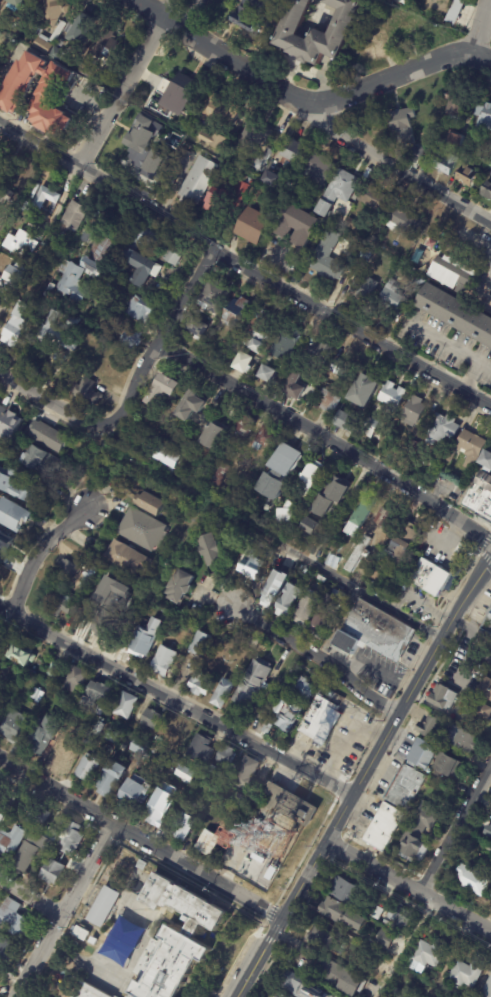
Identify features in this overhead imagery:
building: (22, 4)
building: (0, 9)
road: (169, 9)
building: (455, 11)
building: (251, 14)
road: (186, 17)
building: (405, 26)
road: (477, 27)
building: (84, 28)
building: (60, 29)
building: (319, 31)
building: (1, 33)
building: (108, 42)
road: (223, 56)
building: (0, 61)
building: (89, 68)
road: (306, 71)
road: (404, 74)
road: (120, 91)
building: (185, 91)
building: (40, 94)
road: (91, 99)
building: (222, 107)
building: (454, 107)
building: (484, 118)
building: (402, 125)
building: (195, 129)
building: (161, 131)
building: (257, 135)
building: (140, 139)
building: (456, 141)
building: (213, 142)
building: (296, 151)
building: (417, 152)
building: (263, 160)
building: (153, 165)
building: (445, 165)
road: (396, 169)
building: (320, 170)
building: (466, 175)
building: (273, 178)
building: (199, 180)
building: (486, 191)
building: (340, 192)
building: (7, 193)
building: (262, 193)
building: (228, 196)
building: (374, 196)
building: (48, 198)
building: (27, 206)
building: (75, 216)
building: (409, 219)
building: (302, 224)
building: (353, 224)
building: (258, 225)
building: (377, 240)
building: (68, 243)
building: (435, 243)
building: (21, 244)
building: (72, 251)
building: (101, 254)
building: (177, 255)
building: (367, 255)
building: (146, 257)
building: (328, 258)
road: (244, 266)
building: (456, 273)
building: (14, 275)
building: (73, 282)
building: (118, 286)
building: (365, 286)
building: (50, 289)
building: (216, 296)
building: (392, 297)
building: (23, 306)
building: (140, 308)
building: (239, 311)
building: (457, 311)
building: (48, 322)
building: (72, 323)
building: (197, 329)
building: (14, 332)
building: (130, 336)
road: (159, 336)
building: (256, 337)
building: (61, 340)
building: (285, 343)
building: (318, 356)
building: (243, 363)
building: (340, 369)
building: (267, 374)
building: (294, 387)
building: (161, 389)
building: (363, 391)
road: (482, 391)
building: (87, 392)
road: (473, 395)
building: (392, 397)
road: (52, 401)
building: (329, 402)
building: (190, 404)
road: (472, 405)
building: (414, 411)
road: (481, 412)
building: (345, 422)
building: (7, 424)
building: (244, 426)
building: (370, 428)
building: (443, 429)
building: (213, 435)
building: (50, 437)
building: (266, 437)
road: (325, 440)
building: (414, 446)
building: (180, 449)
building: (468, 450)
building: (163, 458)
building: (486, 460)
building: (42, 461)
building: (281, 471)
building: (216, 473)
building: (312, 477)
building: (5, 483)
building: (331, 494)
building: (481, 497)
building: (150, 503)
building: (288, 512)
building: (362, 513)
building: (12, 515)
building: (381, 515)
road: (483, 524)
building: (311, 527)
building: (143, 529)
road: (486, 540)
building: (4, 541)
building: (403, 543)
building: (336, 548)
building: (210, 549)
road: (38, 551)
building: (358, 554)
road: (485, 557)
building: (127, 558)
building: (330, 561)
building: (250, 564)
building: (68, 568)
building: (379, 568)
building: (308, 576)
building: (429, 576)
building: (88, 577)
building: (320, 578)
building: (367, 583)
building: (59, 586)
building: (180, 586)
road: (360, 590)
building: (269, 593)
building: (339, 594)
building: (288, 601)
building: (134, 603)
building: (150, 603)
building: (329, 604)
building: (62, 606)
building: (306, 610)
road: (486, 614)
building: (488, 623)
building: (106, 624)
building: (320, 625)
building: (379, 625)
building: (184, 627)
building: (347, 642)
building: (141, 643)
building: (199, 643)
building: (20, 655)
building: (489, 657)
building: (162, 661)
road: (320, 661)
road: (375, 667)
building: (52, 671)
building: (74, 680)
building: (200, 684)
building: (251, 685)
building: (282, 688)
building: (303, 688)
building: (485, 688)
building: (222, 693)
building: (36, 695)
building: (95, 695)
building: (443, 697)
road: (175, 700)
building: (308, 703)
building: (125, 706)
building: (62, 709)
building: (99, 710)
building: (484, 711)
building: (287, 714)
building: (150, 719)
building: (320, 720)
building: (12, 725)
building: (430, 726)
building: (267, 728)
building: (98, 729)
building: (41, 735)
building: (112, 735)
road: (346, 735)
building: (460, 738)
building: (139, 747)
building: (200, 750)
road: (308, 750)
building: (226, 755)
building: (422, 755)
building: (61, 756)
building: (448, 767)
building: (87, 768)
building: (192, 773)
building: (246, 773)
building: (206, 776)
road: (362, 777)
building: (110, 779)
building: (1, 786)
building: (404, 788)
road: (57, 794)
building: (134, 794)
building: (290, 805)
building: (159, 809)
building: (4, 813)
building: (37, 819)
building: (382, 826)
building: (182, 827)
road: (454, 828)
building: (488, 831)
building: (418, 834)
building: (48, 839)
building: (70, 839)
building: (10, 841)
building: (206, 843)
building: (26, 855)
building: (142, 865)
building: (51, 872)
road: (197, 876)
building: (472, 881)
road: (407, 888)
building: (347, 891)
road: (33, 894)
building: (385, 898)
building: (393, 901)
building: (103, 906)
building: (376, 911)
road: (66, 912)
building: (342, 913)
building: (12, 918)
building: (399, 919)
building: (81, 932)
building: (321, 937)
building: (172, 938)
building: (385, 939)
building: (93, 941)
road: (404, 949)
building: (5, 950)
building: (430, 952)
building: (470, 971)
building: (336, 975)
building: (294, 984)
building: (487, 990)
building: (83, 991)
building: (473, 994)
building: (276, 996)

